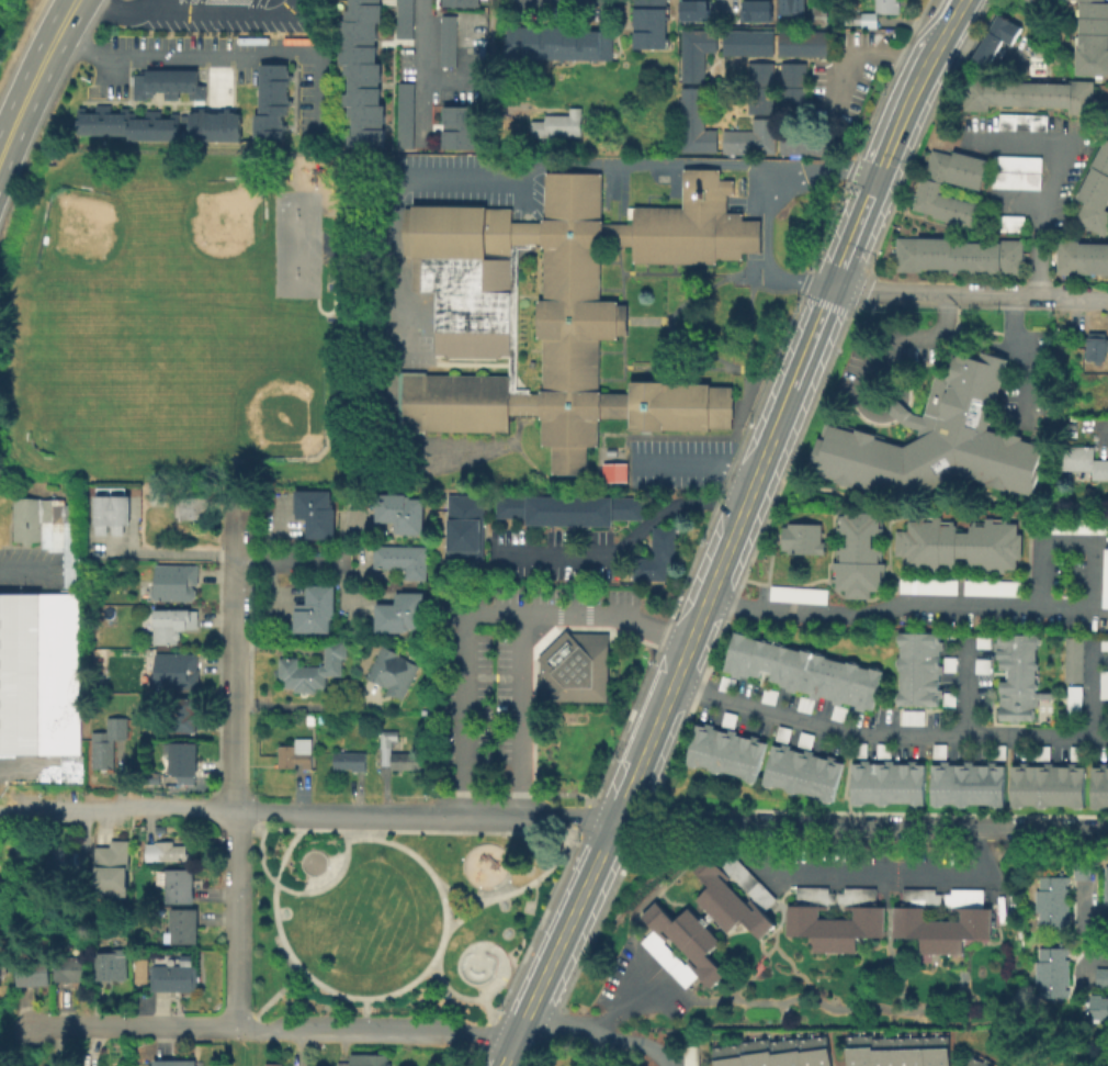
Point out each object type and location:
building: (459, 2)
road: (148, 3)
building: (795, 5)
road: (184, 7)
road: (724, 7)
building: (782, 7)
building: (693, 10)
building: (755, 10)
building: (868, 12)
building: (818, 16)
building: (402, 18)
building: (647, 23)
road: (943, 26)
building: (993, 36)
building: (1090, 37)
building: (444, 38)
building: (556, 41)
building: (745, 41)
building: (802, 42)
road: (856, 48)
building: (693, 52)
road: (224, 53)
building: (1034, 64)
road: (103, 65)
road: (462, 69)
road: (418, 70)
building: (360, 72)
road: (35, 79)
building: (165, 82)
building: (791, 86)
building: (758, 87)
road: (490, 91)
building: (1026, 93)
building: (270, 101)
building: (402, 113)
building: (1020, 120)
building: (124, 122)
building: (692, 122)
building: (556, 123)
building: (213, 124)
building: (457, 125)
building: (748, 136)
road: (1016, 138)
building: (806, 139)
road: (834, 170)
building: (1014, 170)
road: (418, 176)
building: (927, 184)
road: (1044, 189)
building: (1094, 193)
road: (1015, 202)
park: (215, 221)
building: (1005, 222)
park: (90, 242)
road: (759, 249)
building: (957, 255)
building: (1079, 257)
flagpole: (740, 274)
traffic signals: (829, 289)
road: (948, 293)
road: (1087, 299)
building: (553, 308)
road: (834, 322)
road: (880, 344)
building: (1094, 344)
road: (1025, 350)
road: (895, 371)
park: (251, 383)
park: (78, 400)
road: (893, 406)
road: (1099, 433)
road: (769, 436)
building: (935, 438)
building: (1083, 460)
road: (697, 465)
building: (618, 474)
building: (156, 496)
building: (194, 508)
building: (566, 508)
building: (111, 510)
building: (400, 514)
building: (316, 515)
building: (1076, 525)
building: (463, 529)
building: (799, 537)
road: (620, 541)
building: (958, 542)
road: (173, 553)
building: (655, 554)
building: (857, 554)
building: (404, 561)
road: (293, 562)
road: (24, 566)
building: (1104, 576)
building: (176, 583)
building: (926, 584)
building: (992, 586)
building: (796, 593)
road: (986, 603)
road: (235, 607)
building: (317, 610)
road: (480, 613)
building: (400, 615)
building: (172, 626)
building: (41, 639)
building: (982, 640)
building: (1103, 641)
building: (1072, 658)
building: (948, 663)
building: (981, 664)
building: (573, 666)
building: (917, 667)
building: (801, 669)
building: (314, 670)
building: (178, 672)
building: (393, 673)
building: (1016, 675)
building: (724, 683)
building: (1103, 683)
road: (965, 687)
road: (1089, 688)
building: (767, 694)
building: (947, 697)
building: (1072, 700)
building: (804, 703)
road: (305, 705)
building: (837, 711)
road: (520, 714)
building: (911, 715)
building: (185, 716)
building: (726, 718)
building: (781, 731)
road: (885, 732)
building: (388, 739)
building: (804, 739)
building: (108, 743)
building: (858, 748)
building: (882, 749)
building: (724, 750)
building: (938, 750)
building: (996, 751)
building: (1041, 751)
building: (1075, 752)
building: (295, 756)
road: (233, 759)
building: (183, 760)
building: (406, 762)
building: (351, 763)
road: (34, 767)
building: (801, 771)
building: (886, 782)
building: (966, 783)
building: (1099, 783)
building: (1047, 784)
road: (116, 809)
road: (330, 811)
road: (520, 813)
road: (258, 820)
road: (860, 827)
road: (250, 830)
road: (422, 831)
building: (170, 850)
road: (260, 857)
building: (61, 861)
building: (112, 864)
road: (893, 869)
building: (177, 885)
building: (1104, 885)
road: (525, 888)
road: (460, 894)
building: (732, 894)
building: (3, 895)
building: (1049, 900)
road: (1081, 901)
road: (445, 907)
park: (394, 917)
road: (237, 919)
building: (182, 924)
building: (832, 925)
building: (939, 928)
road: (557, 943)
building: (679, 944)
road: (1081, 949)
park: (479, 961)
building: (110, 965)
building: (70, 966)
building: (32, 968)
building: (140, 969)
building: (1049, 972)
building: (1100, 976)
building: (173, 977)
building: (449, 997)
road: (460, 998)
road: (271, 1000)
road: (617, 1001)
building: (1097, 1006)
road: (365, 1014)
road: (491, 1019)
road: (271, 1029)
road: (581, 1029)
road: (18, 1045)
road: (240, 1047)
building: (818, 1050)
building: (862, 1050)
building: (804, 1051)
building: (849, 1051)
building: (874, 1051)
building: (901, 1051)
building: (914, 1051)
building: (927, 1051)
building: (939, 1051)
road: (656, 1052)
building: (760, 1052)
building: (790, 1052)
building: (887, 1052)
building: (746, 1053)
building: (776, 1053)
building: (732, 1054)
building: (688, 1055)
building: (716, 1055)
building: (369, 1059)
building: (970, 1059)
building: (170, 1062)
building: (342, 1063)
building: (984, 1063)
building: (273, 1064)
building: (27, 1065)

